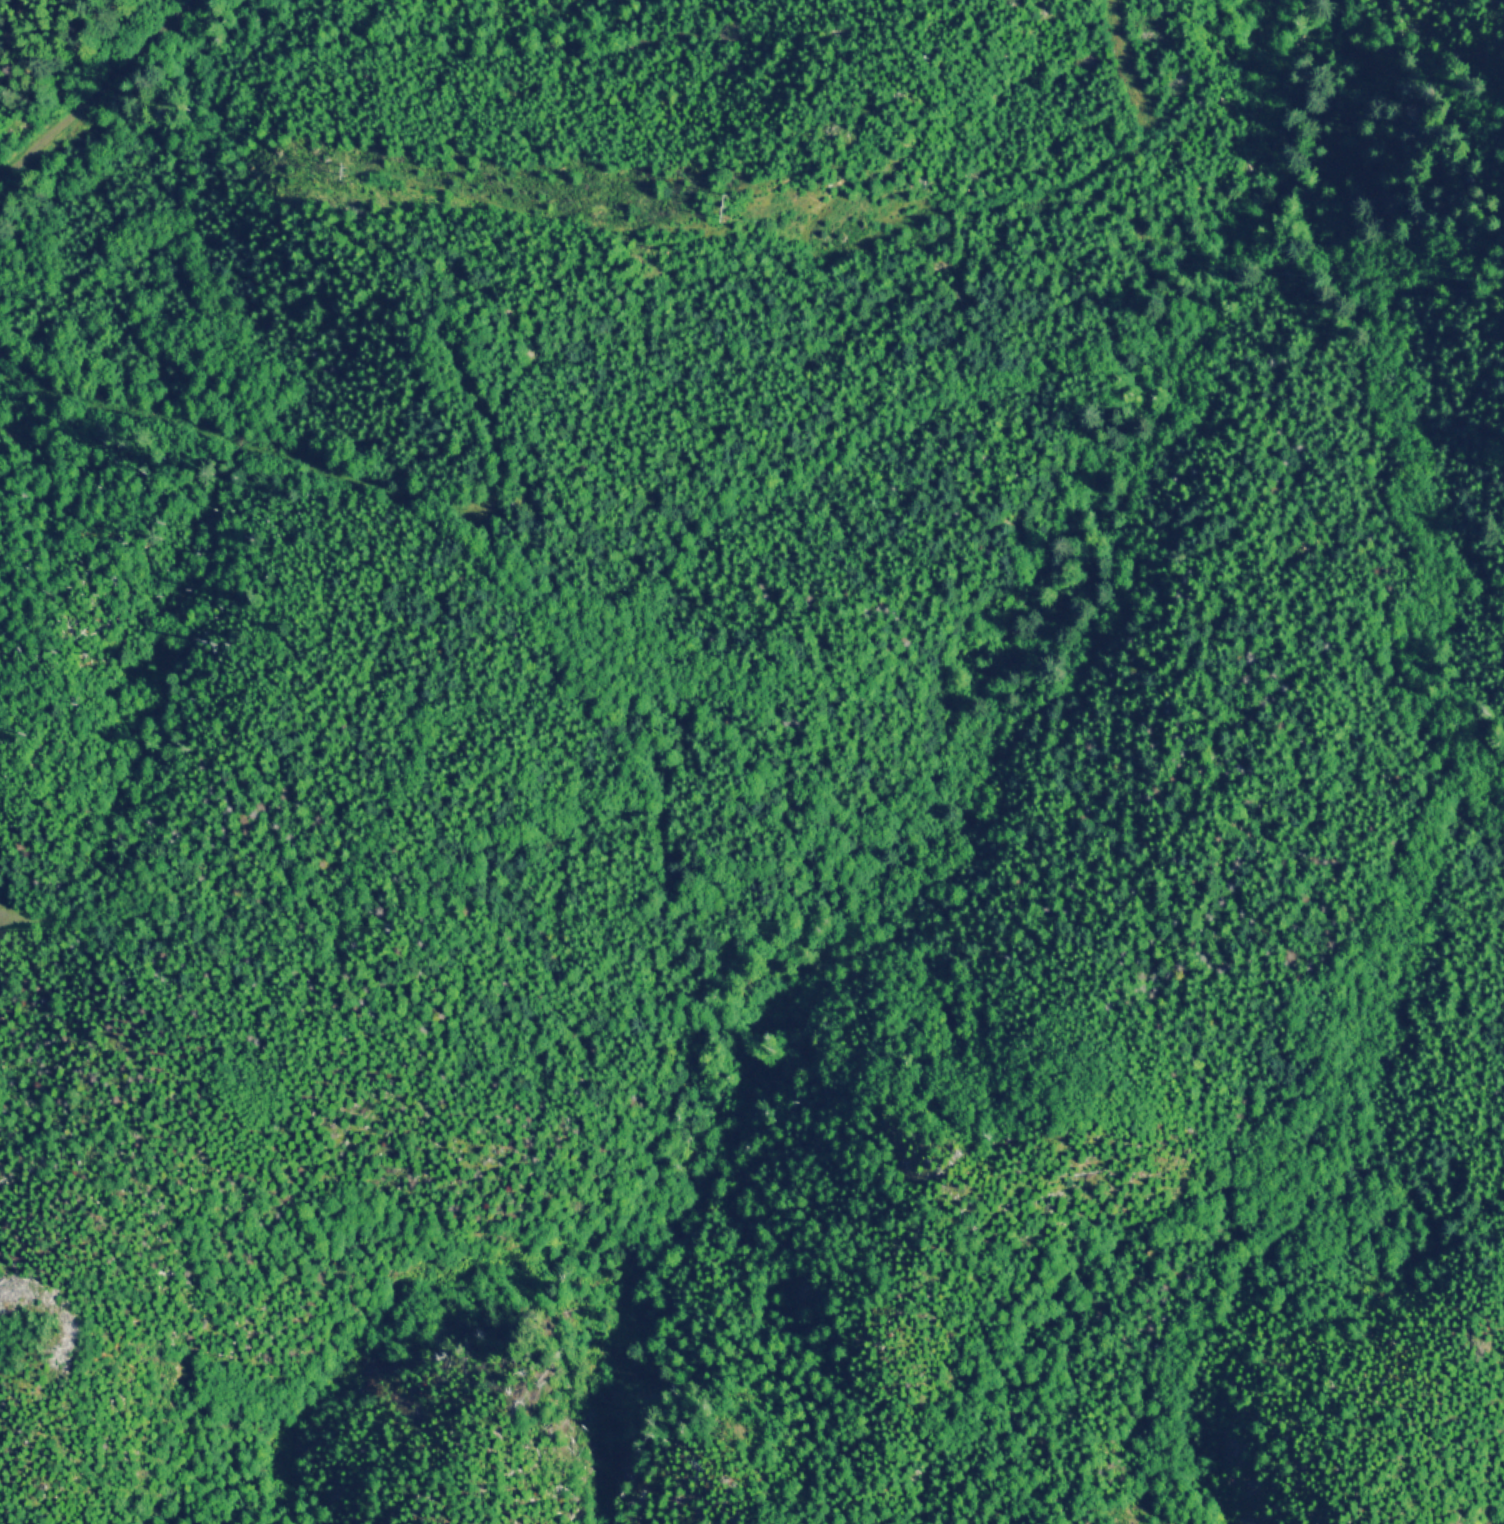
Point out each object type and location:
road: (97, 89)
road: (820, 212)
road: (405, 498)
road: (74, 918)
road: (6, 1343)

